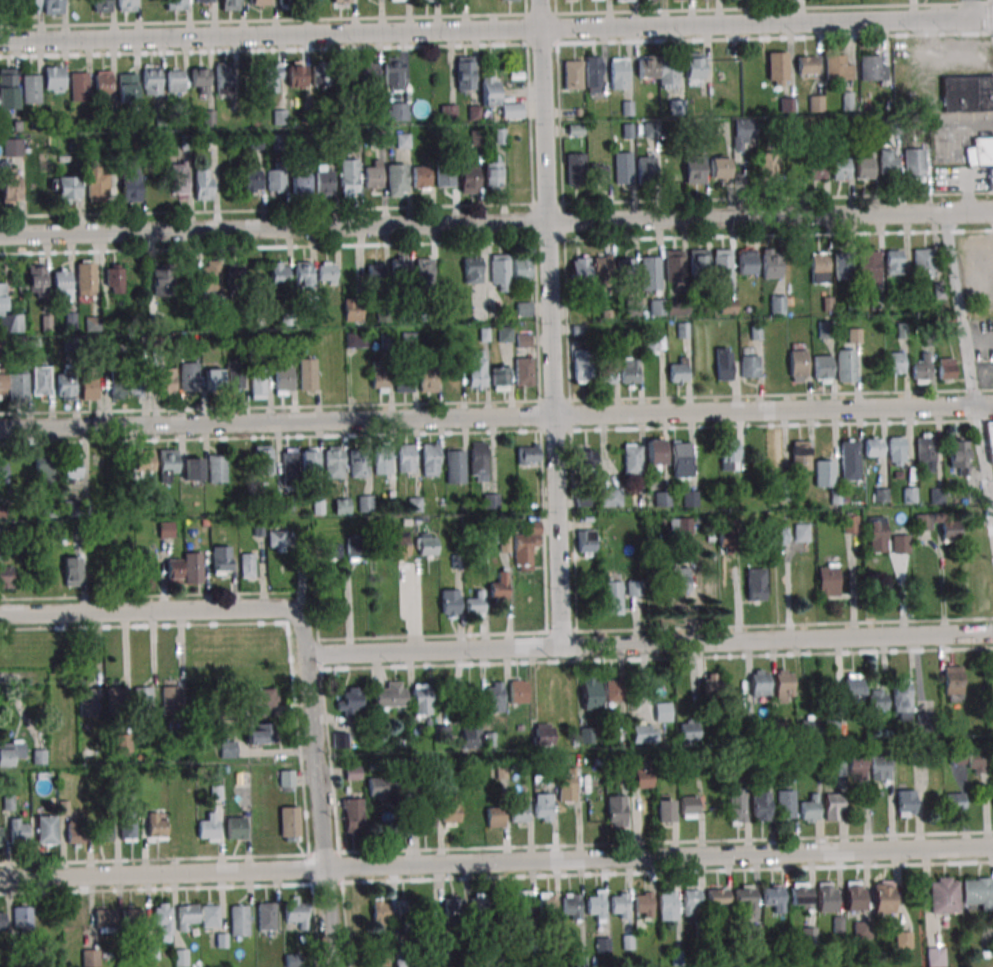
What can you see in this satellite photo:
building: (509, 0)
building: (623, 0)
building: (201, 1)
building: (317, 1)
building: (341, 1)
building: (259, 3)
building: (287, 3)
building: (126, 5)
building: (176, 5)
building: (229, 5)
building: (101, 6)
building: (29, 7)
building: (52, 7)
road: (496, 26)
building: (806, 64)
building: (694, 65)
building: (646, 66)
building: (873, 67)
building: (777, 68)
building: (837, 68)
building: (668, 72)
building: (392, 73)
building: (464, 73)
building: (594, 73)
building: (619, 73)
building: (295, 74)
building: (572, 74)
building: (322, 75)
building: (369, 76)
building: (226, 77)
building: (53, 78)
building: (272, 78)
building: (200, 79)
building: (175, 80)
building: (151, 81)
building: (103, 83)
building: (79, 86)
building: (127, 87)
building: (8, 89)
building: (31, 89)
building: (490, 90)
building: (967, 93)
building: (816, 103)
building: (787, 104)
building: (677, 107)
building: (512, 110)
building: (396, 111)
building: (447, 112)
building: (743, 132)
building: (980, 151)
building: (888, 162)
building: (914, 163)
building: (767, 165)
building: (719, 167)
building: (864, 167)
building: (575, 168)
building: (623, 168)
building: (645, 168)
building: (841, 168)
building: (694, 169)
building: (816, 169)
building: (492, 172)
building: (373, 174)
building: (598, 174)
building: (348, 176)
building: (420, 176)
building: (445, 177)
building: (179, 178)
building: (324, 178)
building: (468, 178)
building: (990, 178)
building: (276, 179)
building: (396, 179)
building: (252, 180)
building: (97, 181)
building: (300, 181)
building: (203, 184)
building: (130, 187)
building: (9, 188)
building: (67, 189)
road: (496, 224)
building: (699, 261)
building: (746, 261)
building: (893, 261)
building: (868, 262)
building: (923, 262)
building: (771, 263)
building: (399, 265)
building: (674, 265)
building: (722, 267)
building: (819, 267)
building: (843, 267)
building: (424, 268)
building: (472, 268)
building: (521, 268)
building: (579, 268)
building: (500, 271)
building: (326, 272)
building: (376, 272)
building: (279, 273)
building: (302, 273)
building: (601, 273)
building: (626, 273)
building: (650, 273)
building: (210, 275)
building: (235, 276)
building: (85, 278)
building: (113, 278)
building: (36, 280)
building: (161, 282)
building: (61, 283)
building: (777, 305)
building: (633, 307)
building: (656, 307)
building: (523, 308)
building: (352, 309)
building: (8, 317)
road: (550, 322)
building: (825, 329)
building: (682, 330)
building: (505, 333)
building: (355, 340)
building: (653, 341)
road: (979, 341)
building: (774, 361)
building: (581, 362)
building: (798, 362)
building: (895, 362)
building: (723, 364)
building: (750, 364)
building: (845, 365)
road: (968, 367)
building: (822, 368)
building: (946, 369)
building: (476, 370)
building: (523, 371)
building: (629, 371)
building: (678, 371)
building: (920, 371)
building: (307, 374)
building: (234, 375)
building: (605, 375)
building: (188, 376)
building: (283, 376)
building: (379, 377)
building: (213, 378)
building: (499, 378)
building: (429, 379)
building: (404, 380)
building: (41, 381)
building: (165, 381)
building: (2, 384)
building: (17, 384)
building: (258, 384)
building: (118, 385)
building: (64, 386)
building: (89, 386)
road: (496, 417)
building: (990, 437)
building: (873, 447)
building: (896, 450)
building: (656, 451)
building: (926, 452)
building: (729, 453)
building: (527, 454)
building: (800, 456)
building: (958, 457)
building: (406, 458)
building: (585, 458)
building: (632, 458)
building: (263, 459)
building: (309, 460)
building: (382, 460)
building: (430, 460)
building: (680, 460)
building: (849, 460)
building: (478, 461)
building: (333, 462)
building: (167, 463)
building: (358, 463)
building: (289, 465)
building: (71, 466)
building: (454, 466)
building: (216, 468)
building: (192, 469)
building: (42, 470)
building: (3, 471)
building: (824, 472)
building: (781, 487)
building: (881, 495)
building: (610, 496)
building: (662, 498)
building: (690, 498)
building: (365, 503)
building: (414, 504)
building: (341, 506)
building: (1, 512)
building: (74, 514)
building: (923, 521)
building: (850, 523)
building: (684, 525)
building: (949, 528)
building: (801, 532)
building: (877, 534)
building: (777, 535)
building: (276, 538)
building: (728, 540)
building: (425, 544)
building: (504, 544)
building: (900, 544)
building: (399, 545)
building: (525, 545)
building: (586, 545)
building: (354, 548)
building: (331, 551)
building: (220, 560)
building: (247, 565)
building: (192, 567)
building: (173, 570)
building: (71, 571)
building: (6, 577)
building: (680, 579)
building: (827, 580)
building: (501, 582)
building: (755, 584)
building: (634, 588)
building: (611, 597)
building: (450, 602)
building: (474, 604)
road: (164, 611)
road: (647, 642)
building: (759, 683)
building: (953, 684)
building: (783, 685)
building: (711, 686)
building: (854, 686)
building: (518, 691)
building: (611, 691)
building: (590, 693)
building: (390, 695)
building: (494, 696)
building: (421, 699)
building: (878, 699)
building: (114, 700)
building: (143, 700)
building: (170, 700)
building: (902, 701)
building: (87, 702)
building: (263, 702)
building: (349, 702)
building: (809, 725)
building: (832, 726)
building: (175, 729)
building: (688, 732)
building: (648, 733)
building: (261, 734)
building: (543, 734)
building: (471, 735)
building: (340, 740)
building: (123, 744)
building: (227, 749)
building: (10, 752)
building: (970, 759)
building: (881, 765)
building: (856, 766)
building: (837, 768)
building: (352, 772)
building: (286, 778)
building: (241, 779)
building: (642, 779)
building: (567, 787)
building: (379, 788)
building: (906, 802)
building: (954, 803)
building: (785, 804)
building: (737, 805)
building: (688, 806)
building: (761, 806)
building: (835, 806)
building: (542, 807)
building: (450, 809)
building: (663, 809)
building: (810, 809)
building: (615, 810)
road: (319, 811)
building: (519, 811)
building: (353, 815)
building: (495, 816)
building: (424, 820)
building: (126, 822)
building: (289, 823)
building: (154, 824)
building: (235, 827)
building: (208, 828)
building: (18, 830)
building: (45, 830)
building: (102, 832)
building: (74, 834)
building: (0, 836)
road: (496, 861)
building: (977, 893)
building: (944, 894)
building: (717, 896)
building: (800, 896)
building: (855, 896)
building: (883, 896)
building: (746, 897)
building: (826, 897)
building: (774, 898)
building: (691, 901)
building: (595, 905)
building: (619, 905)
building: (643, 905)
building: (667, 905)
building: (546, 906)
building: (571, 906)
building: (452, 907)
building: (523, 907)
building: (481, 910)
building: (381, 911)
building: (296, 912)
building: (407, 914)
building: (162, 916)
building: (186, 916)
building: (209, 916)
building: (266, 916)
building: (21, 917)
building: (132, 919)
building: (103, 920)
building: (239, 920)
building: (2, 921)
building: (862, 930)
building: (808, 932)
building: (904, 939)
building: (935, 956)
building: (90, 957)
building: (292, 959)

